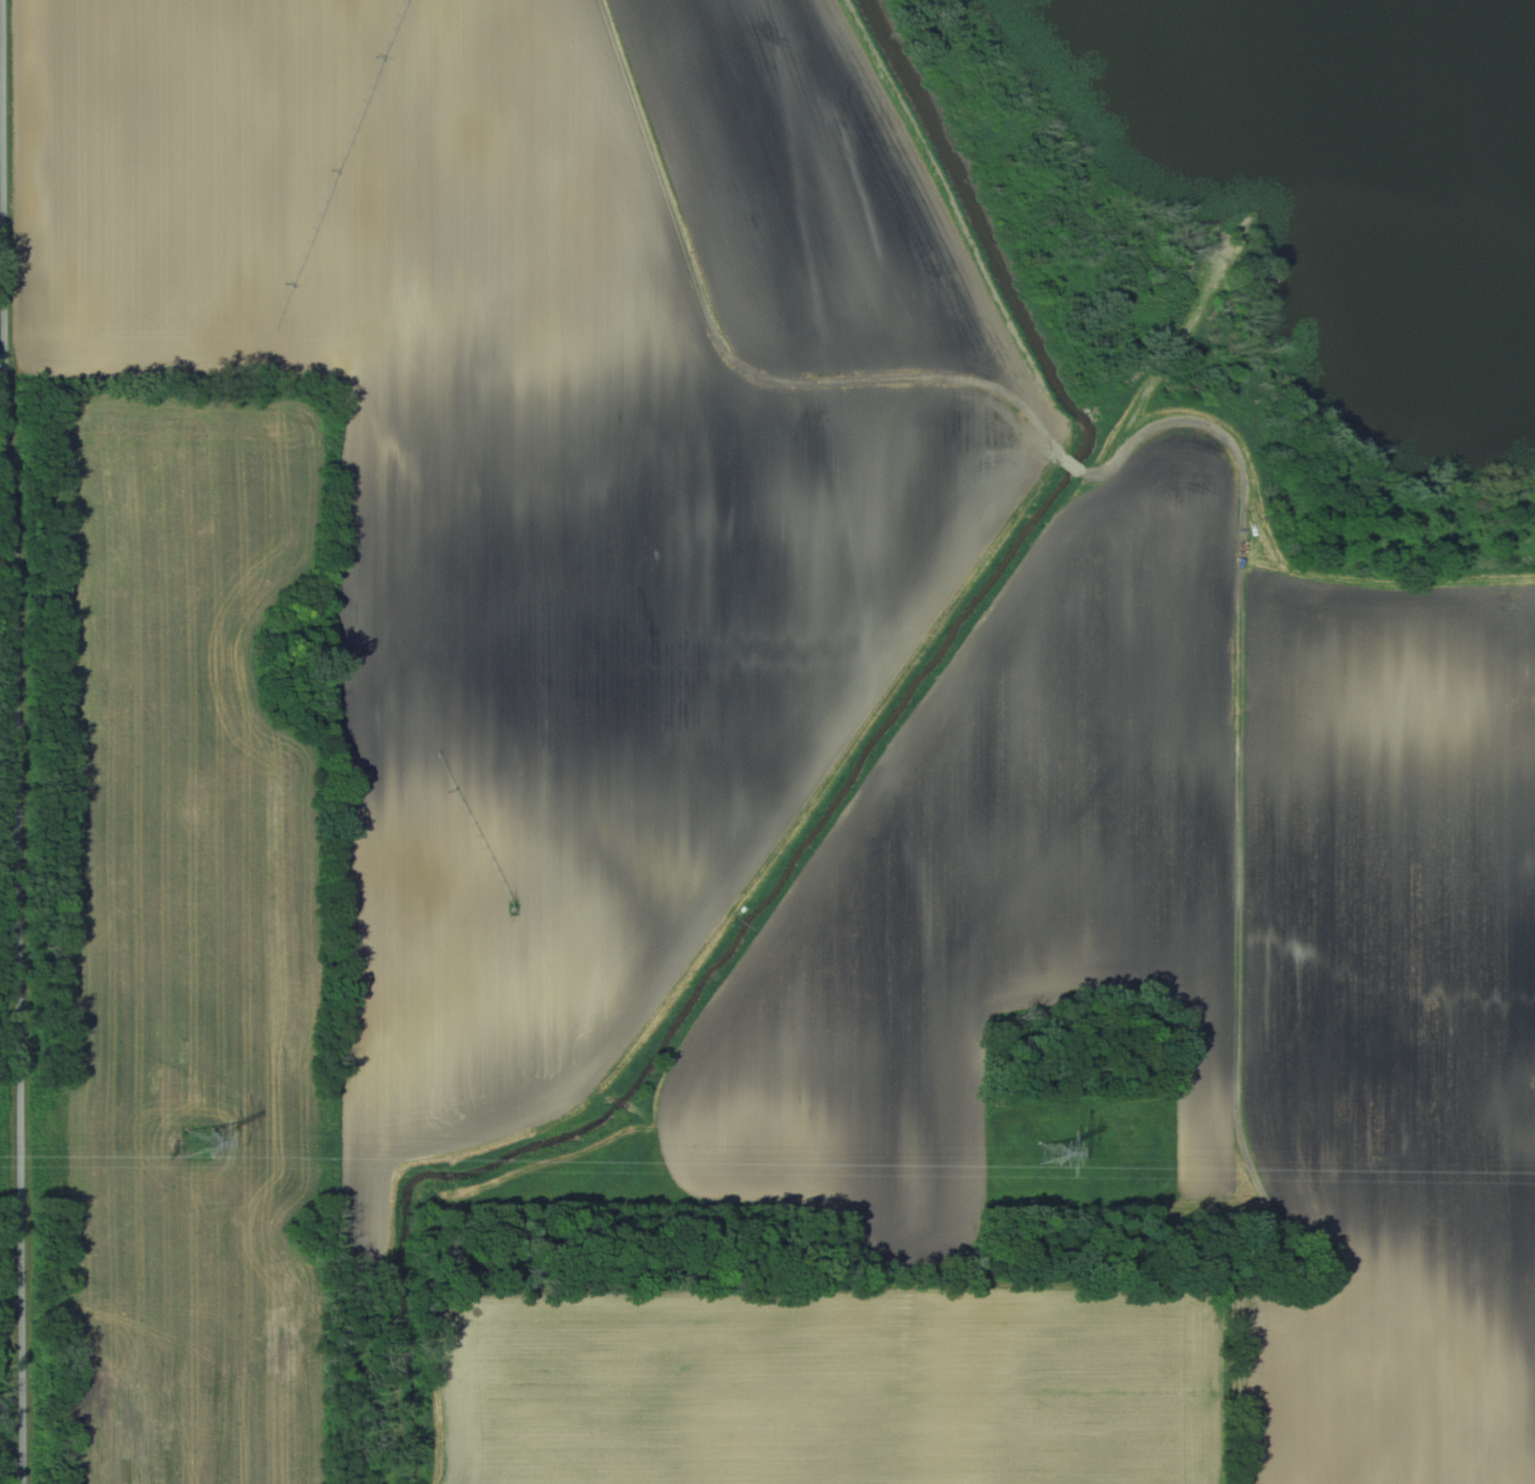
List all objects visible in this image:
power tower: (198, 1144)
power tower: (1049, 1156)

